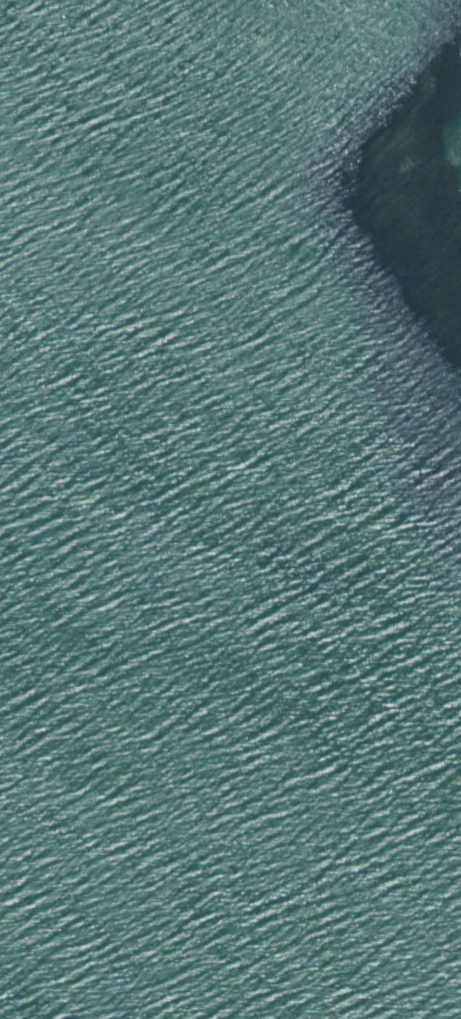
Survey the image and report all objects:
river: (145, 754)

